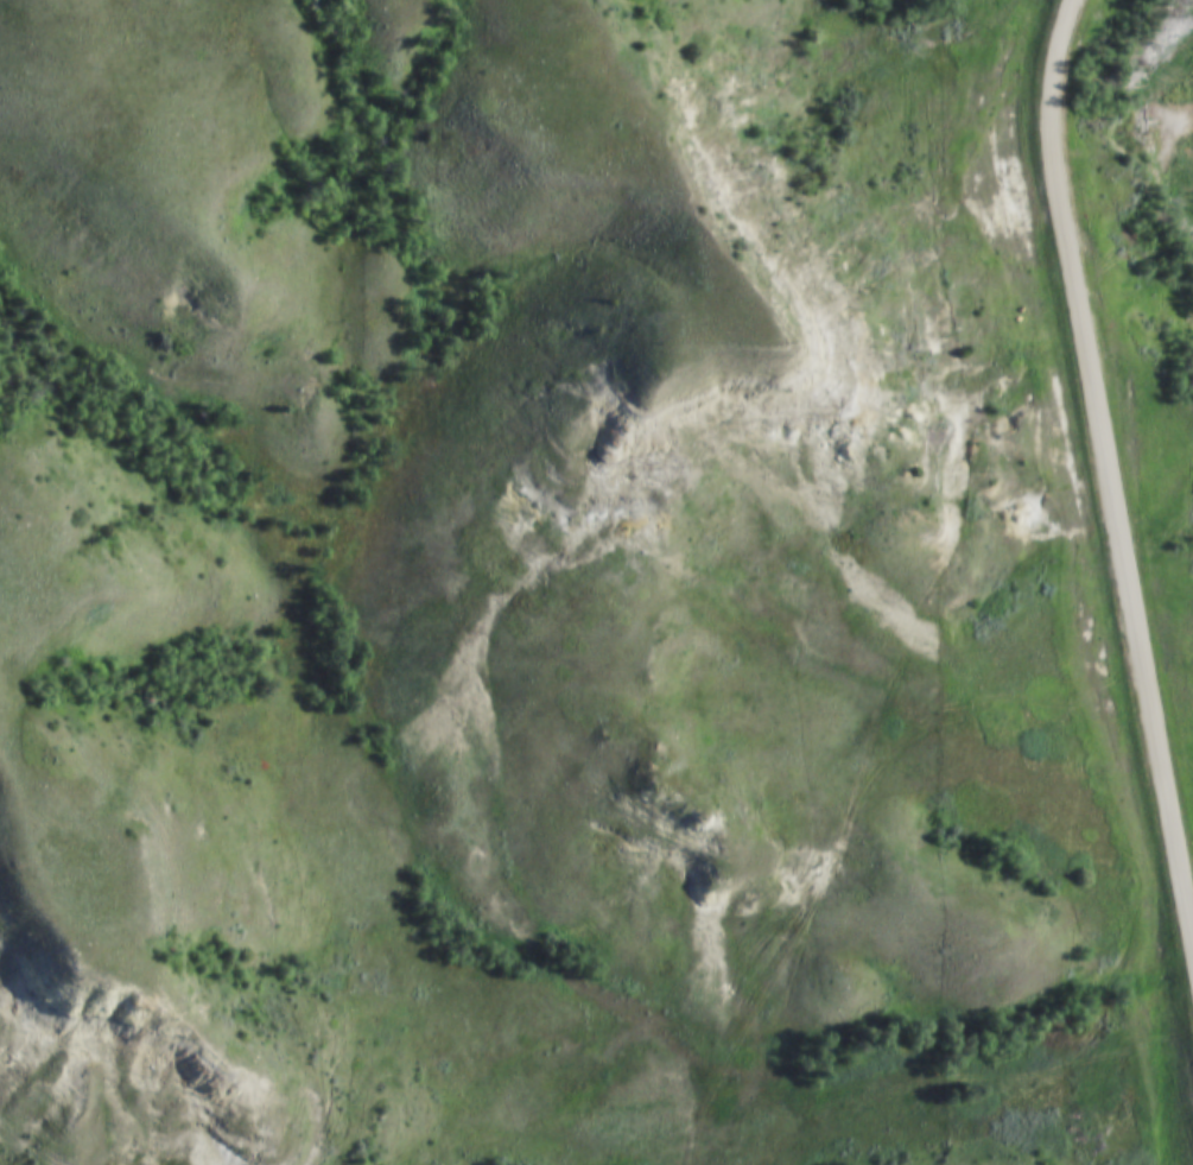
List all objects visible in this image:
road: (1108, 462)
road: (730, 1052)

